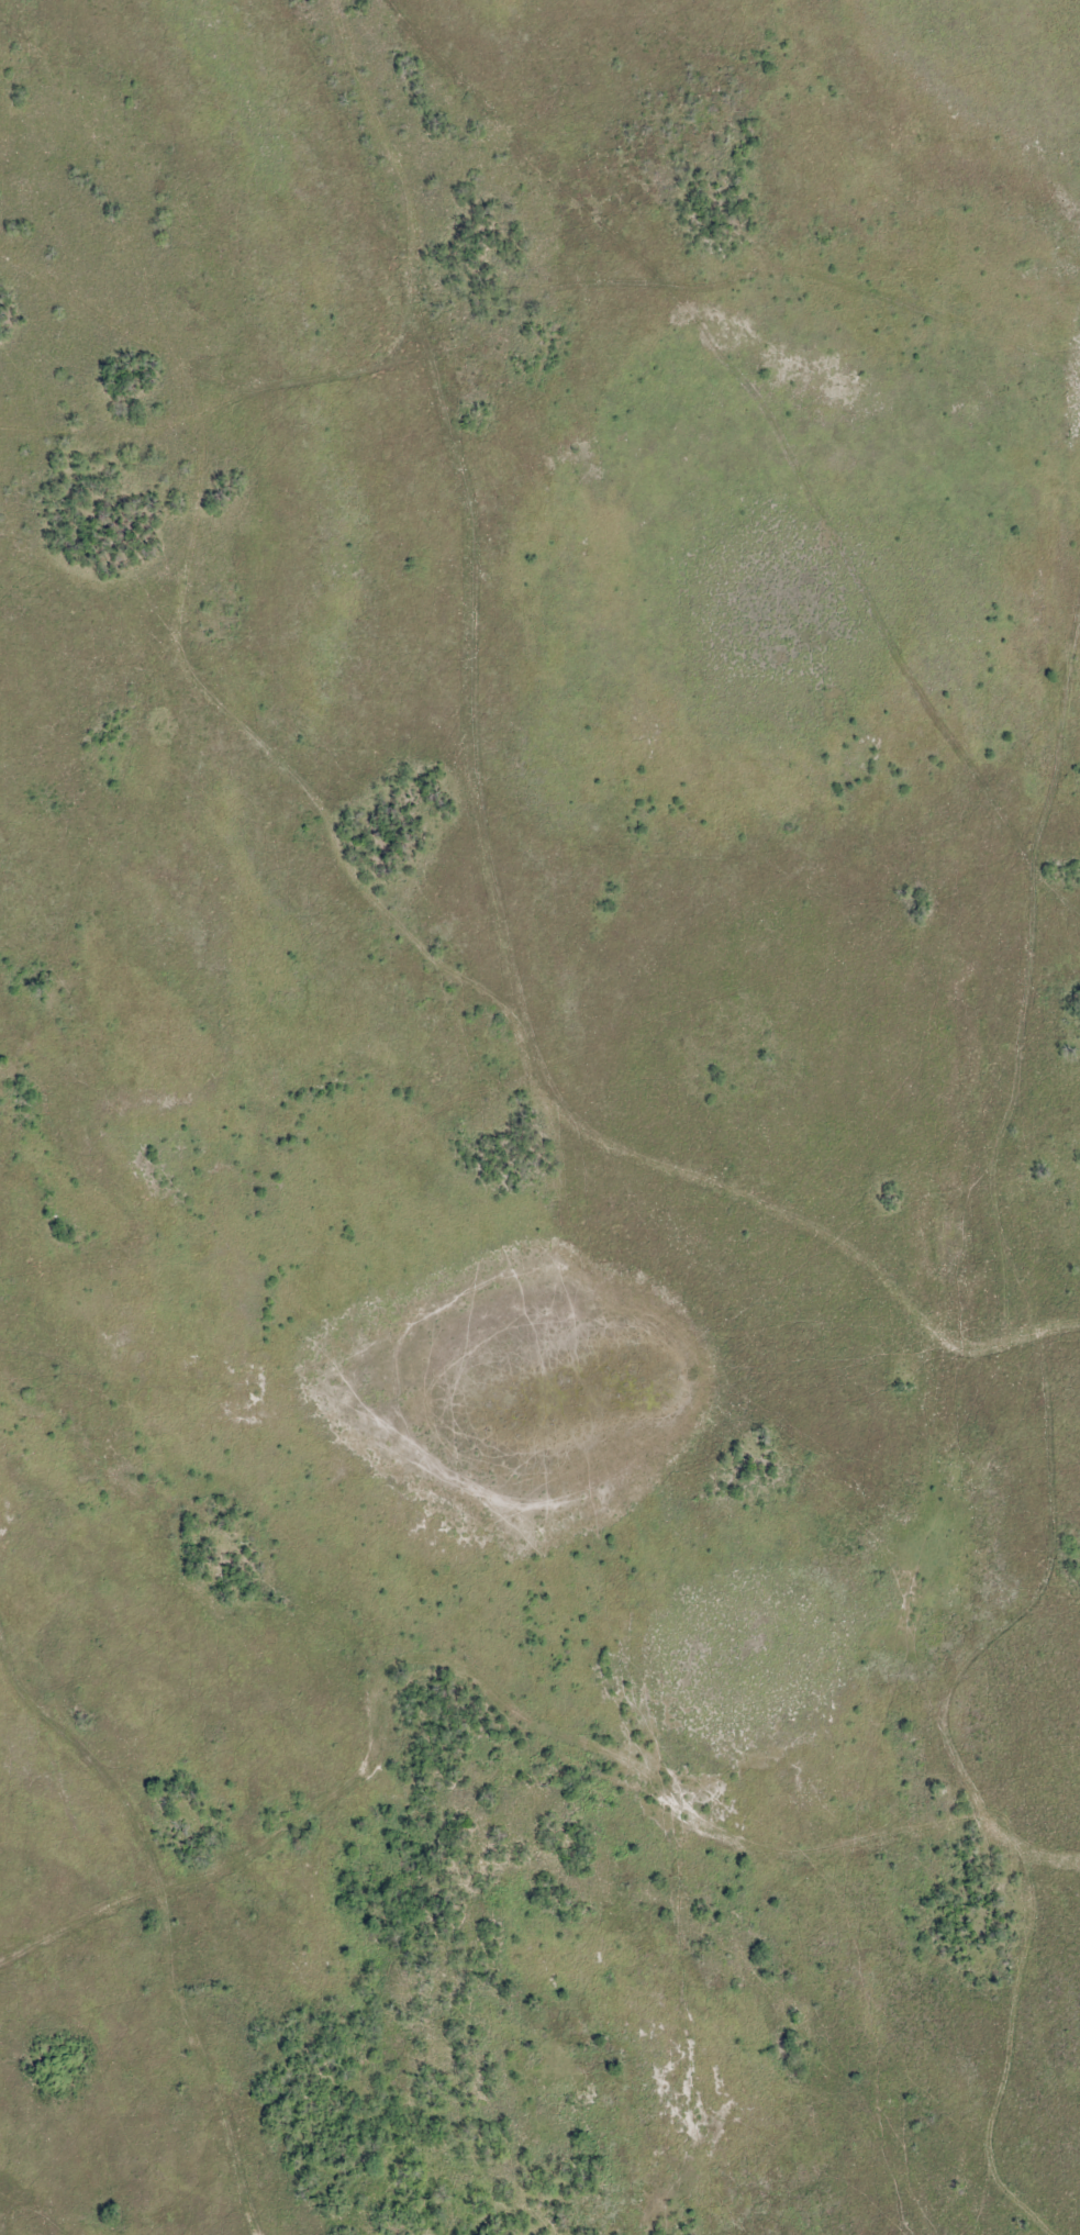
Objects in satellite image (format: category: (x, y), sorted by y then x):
road: (772, 70)

